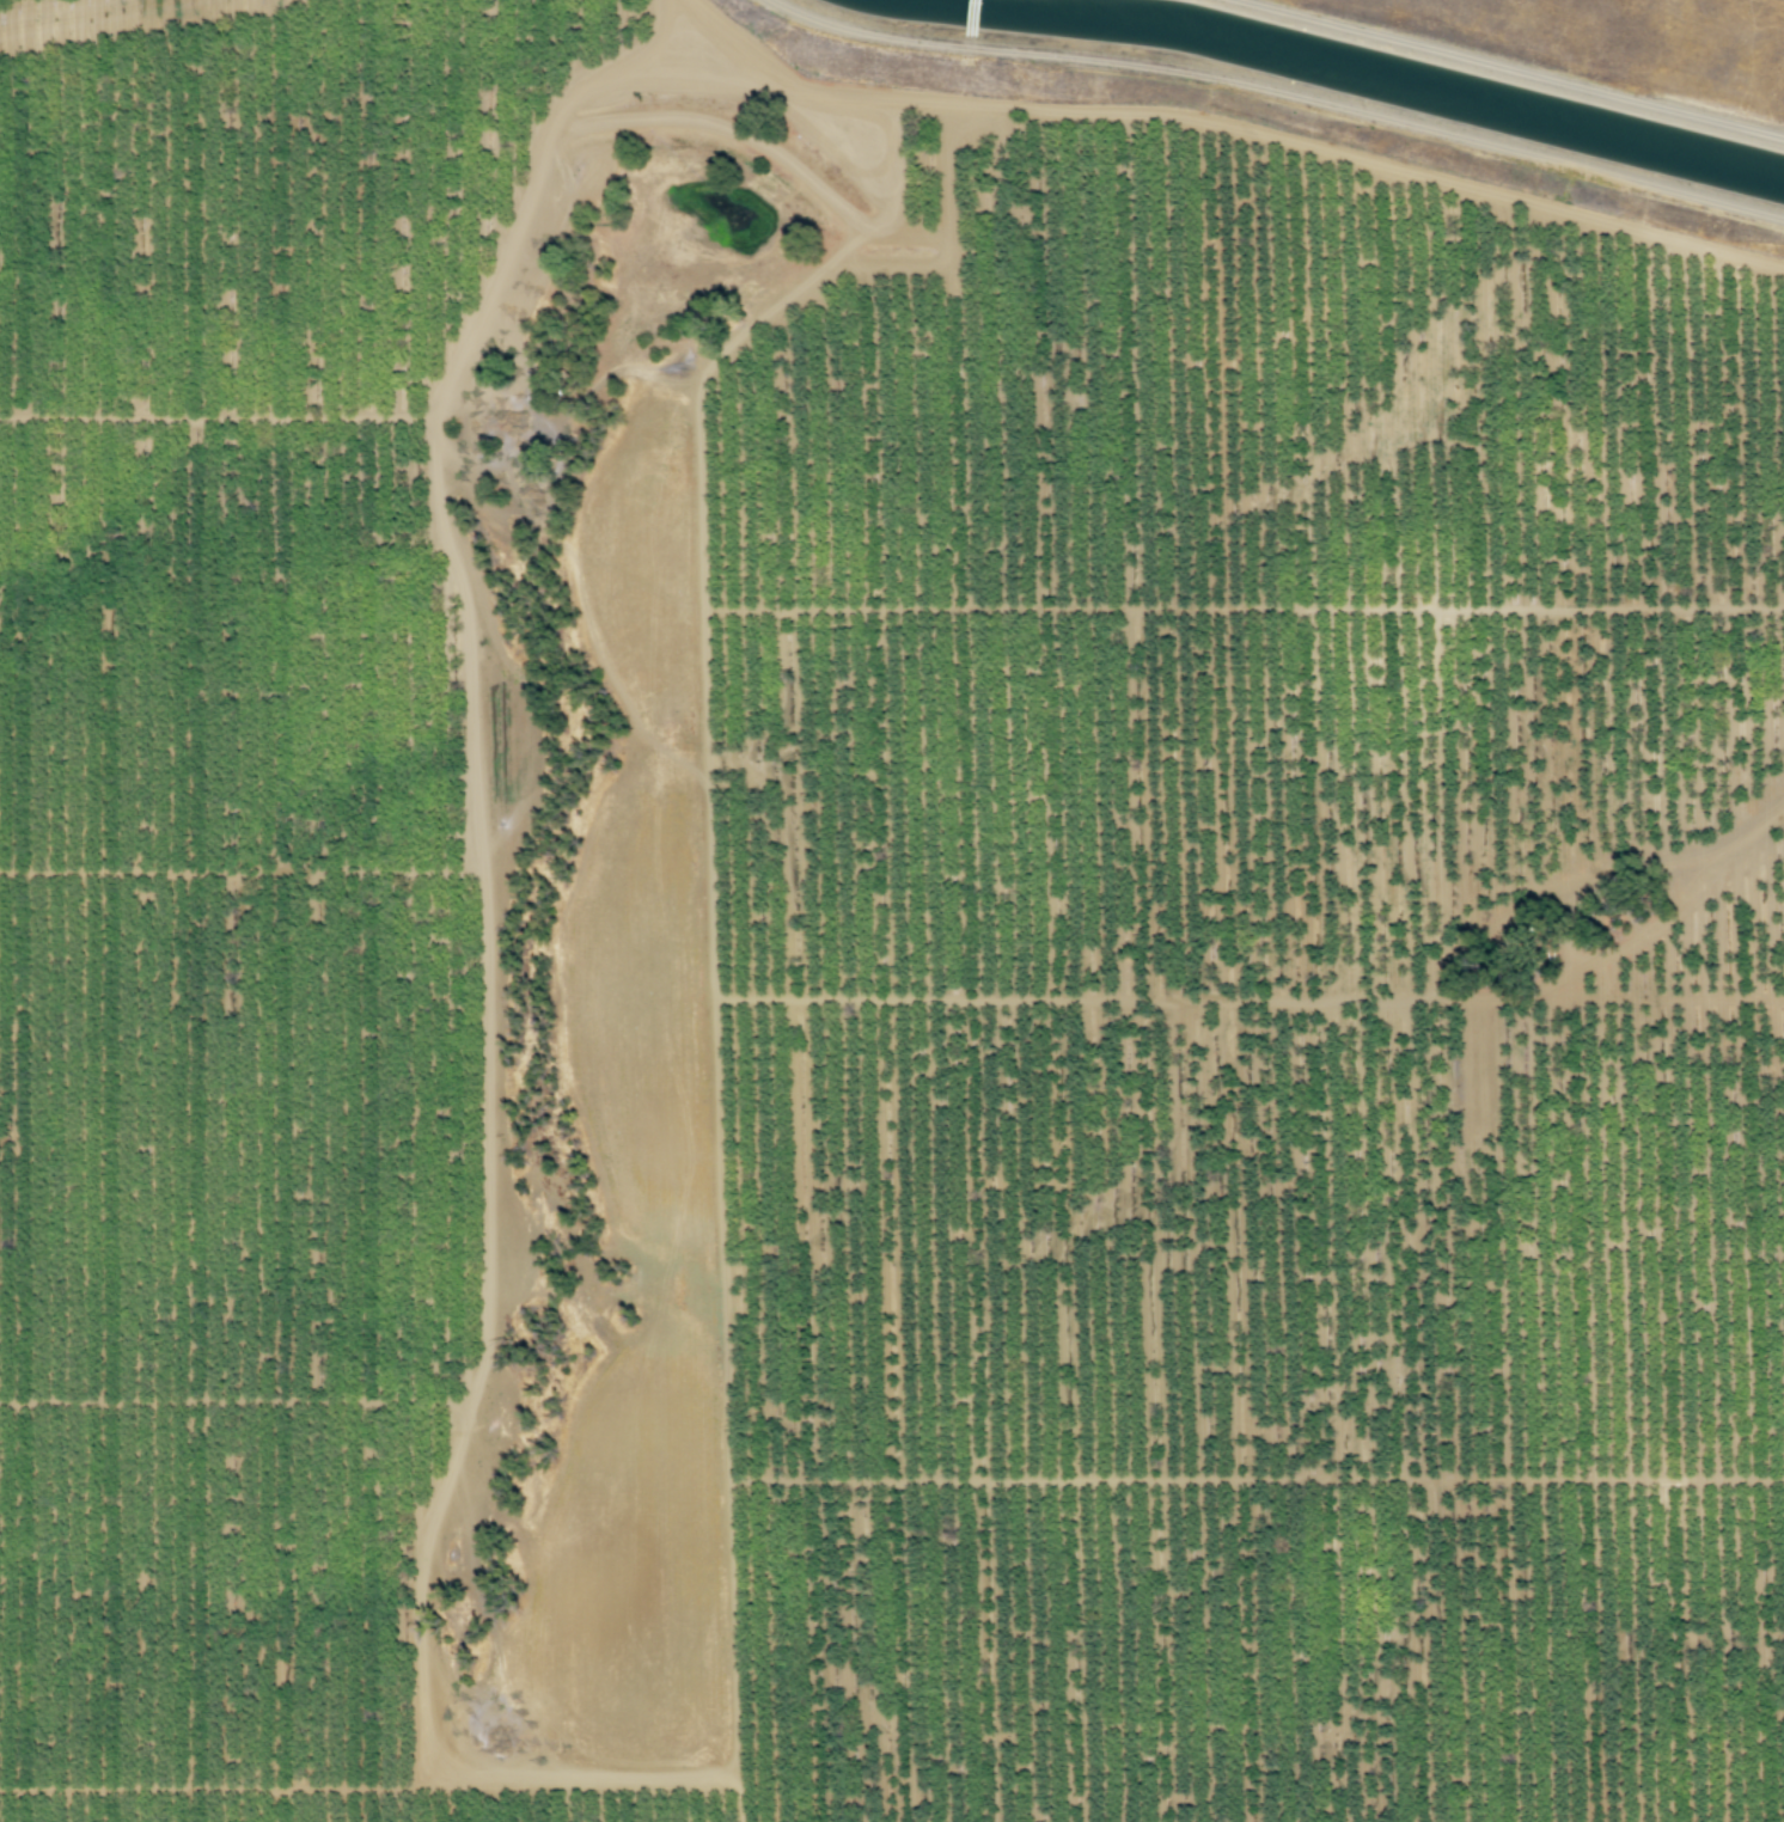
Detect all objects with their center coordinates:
road: (627, 54)
road: (793, 80)
road: (1355, 158)
road: (219, 416)
road: (1244, 609)
road: (1589, 870)
road: (239, 873)
road: (1657, 924)
road: (1248, 998)
road: (234, 1404)
road: (1257, 1479)
road: (415, 1626)
road: (227, 1789)

